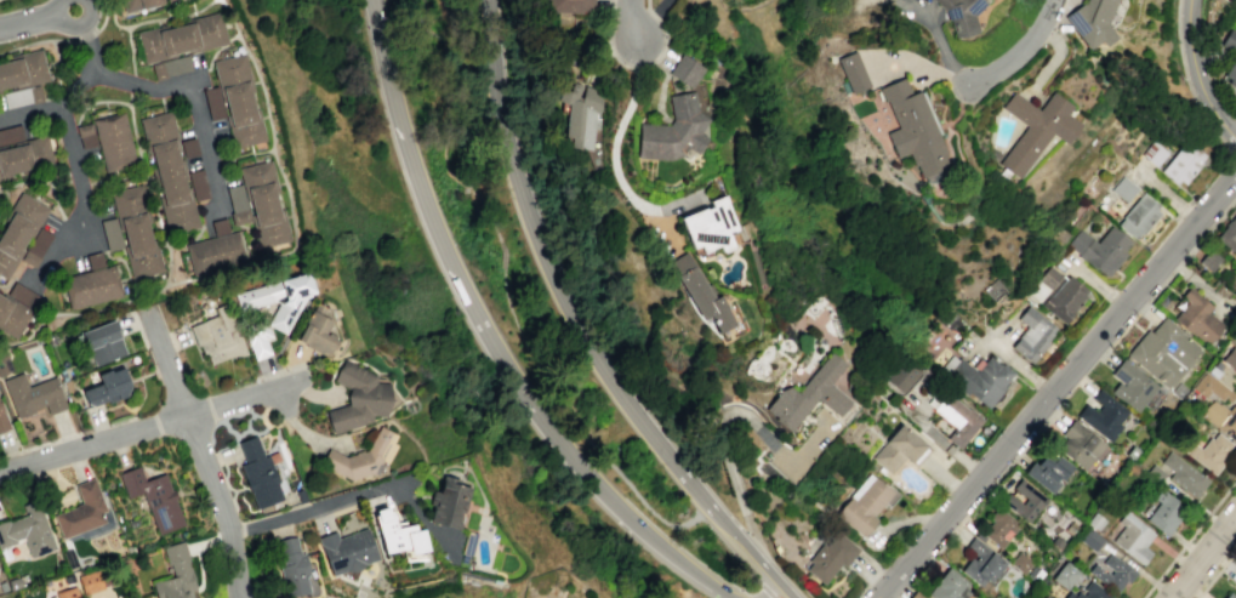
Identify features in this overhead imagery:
building: (170, 1)
building: (139, 5)
building: (569, 5)
building: (961, 15)
road: (103, 16)
road: (153, 18)
road: (633, 19)
road: (27, 21)
building: (1090, 22)
road: (72, 27)
road: (663, 33)
road: (86, 36)
building: (182, 38)
building: (1230, 39)
road: (36, 41)
road: (606, 44)
road: (939, 45)
road: (130, 49)
road: (455, 50)
road: (1019, 51)
road: (212, 55)
road: (1053, 59)
road: (386, 61)
road: (52, 62)
road: (58, 62)
road: (643, 67)
building: (171, 68)
road: (919, 69)
building: (25, 70)
building: (684, 70)
road: (1200, 70)
building: (850, 72)
building: (1231, 73)
road: (130, 82)
road: (183, 84)
road: (1190, 85)
road: (97, 101)
building: (239, 101)
building: (213, 104)
road: (55, 107)
building: (579, 114)
road: (454, 115)
building: (912, 129)
building: (1036, 129)
building: (672, 130)
building: (11, 135)
building: (87, 136)
building: (114, 142)
building: (188, 147)
road: (444, 152)
building: (1154, 153)
building: (35, 155)
road: (241, 155)
road: (614, 163)
building: (1183, 163)
road: (1231, 164)
building: (4, 166)
building: (170, 173)
road: (47, 181)
road: (460, 181)
building: (198, 184)
road: (149, 188)
building: (1123, 188)
road: (1164, 195)
building: (235, 197)
road: (6, 201)
road: (80, 201)
building: (264, 205)
road: (488, 209)
building: (1138, 215)
building: (240, 216)
building: (708, 226)
building: (221, 228)
building: (18, 233)
building: (137, 233)
building: (112, 235)
building: (1228, 235)
road: (91, 243)
building: (36, 249)
building: (1099, 249)
road: (446, 252)
building: (215, 254)
road: (502, 256)
road: (268, 258)
building: (1208, 260)
road: (123, 261)
building: (1049, 277)
road: (1167, 278)
road: (558, 281)
road: (1098, 283)
building: (93, 287)
building: (699, 292)
building: (23, 296)
building: (1064, 298)
building: (279, 301)
building: (1196, 317)
building: (12, 318)
road: (1003, 332)
building: (1032, 334)
building: (220, 337)
building: (258, 338)
building: (318, 338)
building: (104, 347)
building: (1163, 352)
road: (1010, 358)
building: (1230, 358)
building: (905, 376)
building: (976, 377)
road: (1058, 386)
building: (1133, 387)
building: (1177, 389)
building: (109, 393)
building: (808, 395)
building: (33, 398)
building: (357, 400)
building: (1218, 405)
road: (540, 412)
road: (720, 415)
building: (1101, 415)
building: (957, 418)
building: (2, 420)
road: (138, 428)
road: (303, 433)
building: (1077, 444)
building: (900, 449)
building: (1208, 451)
road: (200, 452)
building: (1132, 452)
building: (359, 460)
road: (610, 463)
building: (1047, 469)
building: (258, 472)
building: (1155, 473)
building: (1183, 474)
road: (403, 480)
road: (355, 494)
building: (153, 497)
building: (1024, 500)
building: (864, 503)
building: (448, 506)
building: (81, 511)
building: (1164, 512)
building: (1095, 520)
building: (998, 526)
building: (27, 530)
road: (643, 531)
building: (398, 534)
building: (1133, 537)
road: (1189, 537)
building: (1090, 539)
building: (347, 549)
road: (1203, 556)
building: (830, 557)
road: (756, 560)
building: (980, 562)
building: (1020, 563)
building: (292, 566)
building: (1111, 573)
road: (1215, 573)
building: (1035, 574)
building: (175, 575)
building: (1064, 575)
building: (90, 581)
road: (868, 583)
road: (767, 586)
building: (949, 586)
building: (1089, 592)
building: (67, 593)
building: (915, 594)
building: (1229, 596)
building: (1044, 597)

